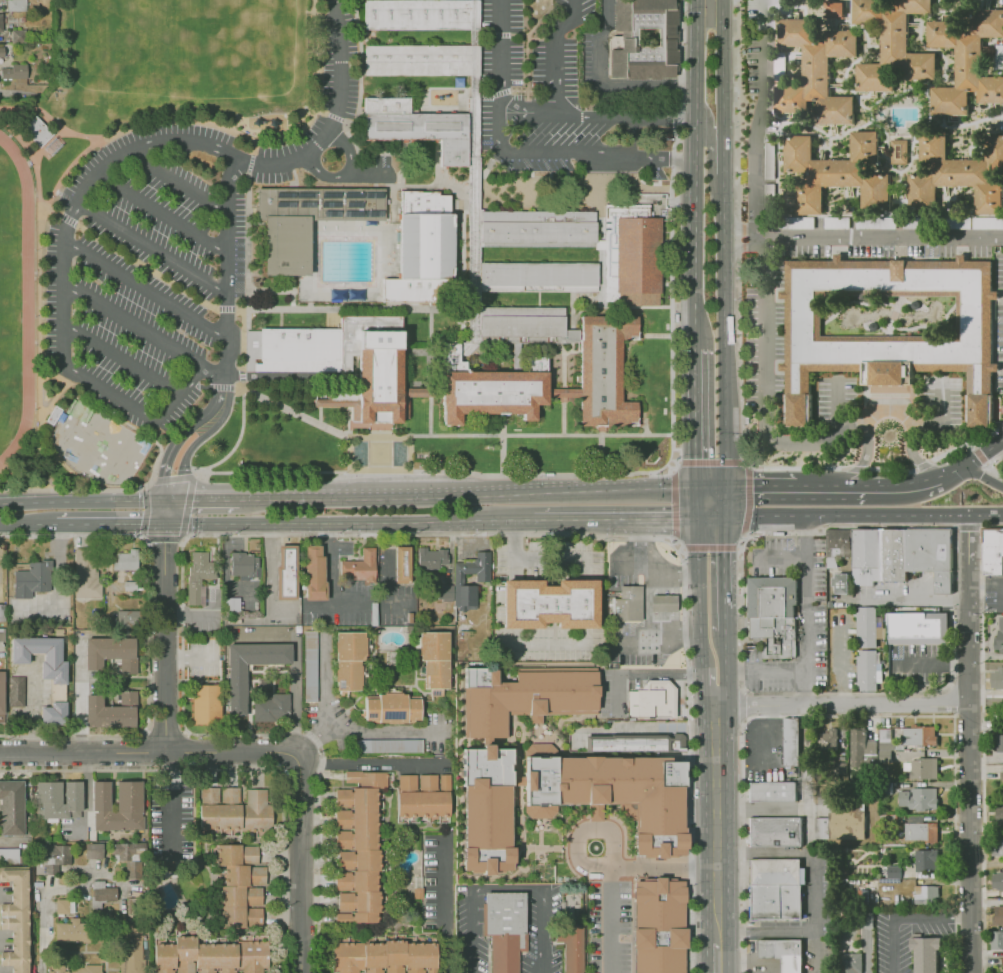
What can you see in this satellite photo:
building: (17, 5)
road: (315, 8)
building: (416, 14)
road: (570, 19)
building: (0, 22)
road: (536, 23)
building: (19, 34)
road: (475, 34)
road: (495, 34)
building: (623, 37)
park: (141, 43)
building: (892, 47)
building: (2, 53)
road: (499, 58)
building: (998, 58)
building: (416, 60)
building: (967, 62)
road: (527, 68)
building: (816, 69)
road: (723, 70)
building: (15, 71)
road: (554, 73)
road: (606, 83)
road: (518, 89)
road: (499, 91)
road: (481, 94)
parking lot: (554, 101)
building: (386, 105)
road: (320, 111)
road: (616, 116)
road: (333, 117)
road: (17, 118)
parking lot: (326, 119)
road: (335, 119)
road: (762, 119)
road: (52, 121)
road: (136, 125)
building: (37, 131)
building: (422, 131)
road: (49, 144)
road: (254, 148)
road: (580, 151)
building: (900, 151)
road: (109, 161)
road: (725, 161)
road: (252, 163)
road: (35, 165)
building: (952, 169)
road: (348, 173)
road: (369, 173)
road: (697, 173)
building: (841, 175)
road: (177, 181)
road: (55, 210)
road: (161, 212)
road: (671, 215)
road: (67, 219)
building: (307, 221)
building: (802, 222)
building: (882, 223)
building: (977, 223)
building: (838, 224)
building: (537, 226)
road: (744, 231)
road: (739, 232)
road: (883, 236)
park: (328, 246)
road: (152, 247)
road: (744, 247)
building: (422, 249)
building: (630, 256)
road: (473, 266)
road: (146, 267)
parking lot: (148, 269)
road: (227, 271)
building: (538, 276)
road: (145, 289)
road: (270, 290)
road: (294, 290)
road: (293, 292)
park: (6, 299)
track: (22, 305)
road: (309, 305)
road: (226, 309)
road: (241, 309)
building: (521, 321)
parking lot: (999, 321)
road: (61, 323)
building: (889, 325)
road: (144, 329)
parking lot: (763, 331)
road: (248, 336)
building: (292, 349)
road: (430, 350)
road: (725, 350)
road: (121, 358)
building: (369, 368)
building: (604, 370)
road: (274, 375)
road: (193, 380)
road: (198, 386)
road: (220, 386)
building: (486, 389)
road: (416, 392)
road: (436, 392)
road: (562, 392)
road: (126, 402)
road: (53, 403)
road: (219, 409)
road: (429, 413)
road: (562, 413)
building: (53, 415)
road: (697, 417)
road: (121, 421)
road: (644, 424)
road: (447, 434)
road: (42, 436)
road: (967, 442)
park: (98, 443)
road: (786, 443)
road: (972, 444)
flagpole: (485, 446)
road: (379, 447)
road: (672, 448)
road: (984, 449)
road: (168, 452)
fountain: (359, 453)
fountain: (399, 453)
road: (502, 454)
road: (912, 454)
road: (600, 457)
traffic signals: (697, 457)
road: (980, 457)
road: (184, 462)
road: (706, 462)
road: (860, 462)
road: (921, 465)
road: (987, 465)
road: (796, 468)
road: (856, 468)
road: (890, 468)
road: (953, 469)
road: (292, 472)
road: (526, 476)
road: (983, 476)
road: (172, 478)
road: (903, 482)
road: (760, 484)
road: (711, 485)
traffic signals: (753, 485)
road: (830, 485)
road: (72, 489)
road: (578, 491)
road: (360, 495)
road: (215, 498)
traffic signals: (169, 500)
road: (84, 501)
road: (186, 507)
road: (146, 512)
road: (166, 512)
road: (864, 517)
road: (711, 519)
road: (656, 520)
traffic signals: (670, 520)
road: (575, 521)
road: (348, 522)
road: (108, 524)
traffic signals: (163, 524)
road: (27, 525)
road: (966, 527)
road: (463, 534)
road: (162, 537)
road: (639, 537)
road: (707, 546)
road: (514, 551)
building: (992, 551)
traffic signals: (726, 552)
building: (901, 555)
building: (431, 558)
road: (779, 558)
building: (837, 558)
building: (127, 560)
road: (553, 561)
building: (402, 564)
road: (726, 564)
building: (201, 565)
building: (244, 565)
building: (361, 566)
road: (271, 567)
road: (645, 571)
road: (698, 571)
road: (683, 572)
building: (316, 573)
building: (86, 574)
building: (285, 574)
building: (459, 577)
building: (32, 578)
road: (331, 578)
building: (130, 586)
building: (196, 595)
road: (903, 600)
building: (547, 603)
road: (516, 604)
building: (627, 604)
building: (664, 604)
gas station: (664, 604)
building: (231, 605)
road: (646, 608)
road: (806, 612)
building: (2, 613)
road: (189, 614)
building: (775, 618)
building: (126, 621)
road: (726, 627)
building: (866, 627)
building: (916, 628)
road: (683, 629)
building: (233, 632)
building: (3, 634)
building: (999, 634)
road: (146, 635)
road: (165, 639)
road: (544, 644)
building: (112, 653)
building: (349, 658)
building: (435, 658)
building: (56, 662)
building: (308, 665)
road: (951, 669)
building: (865, 672)
road: (766, 673)
road: (727, 676)
building: (996, 678)
road: (702, 682)
building: (237, 690)
building: (1, 692)
building: (17, 695)
road: (292, 699)
building: (528, 700)
building: (652, 701)
road: (324, 702)
building: (207, 704)
road: (743, 704)
road: (842, 706)
building: (270, 708)
building: (393, 708)
building: (112, 710)
building: (55, 712)
road: (849, 716)
road: (380, 732)
building: (915, 737)
road: (981, 738)
building: (826, 740)
building: (791, 741)
building: (635, 743)
building: (857, 743)
building: (998, 743)
road: (972, 744)
building: (885, 745)
building: (388, 746)
road: (150, 754)
road: (373, 761)
building: (839, 768)
building: (921, 768)
road: (239, 770)
building: (1001, 781)
building: (772, 792)
building: (616, 794)
building: (423, 795)
building: (130, 797)
building: (60, 799)
building: (920, 799)
building: (11, 807)
building: (234, 808)
building: (488, 808)
road: (761, 808)
road: (714, 813)
building: (999, 814)
building: (841, 825)
road: (581, 831)
building: (921, 831)
building: (774, 832)
road: (808, 840)
building: (999, 845)
building: (359, 847)
fountain: (596, 847)
building: (126, 851)
building: (52, 852)
building: (94, 852)
building: (10, 856)
building: (927, 861)
road: (301, 864)
building: (158, 866)
road: (612, 869)
road: (319, 870)
building: (894, 872)
building: (997, 879)
road: (506, 887)
building: (772, 888)
road: (45, 889)
building: (243, 891)
building: (417, 892)
building: (101, 893)
building: (927, 894)
building: (861, 896)
building: (61, 906)
road: (447, 907)
building: (343, 916)
building: (999, 916)
building: (16, 918)
road: (910, 919)
building: (866, 920)
building: (505, 926)
building: (658, 926)
road: (716, 926)
road: (762, 929)
building: (69, 932)
building: (998, 941)
building: (569, 947)
building: (131, 950)
road: (716, 952)
building: (782, 953)
building: (212, 954)
building: (926, 954)
building: (387, 956)
building: (1002, 962)
building: (850, 964)
building: (73, 969)

